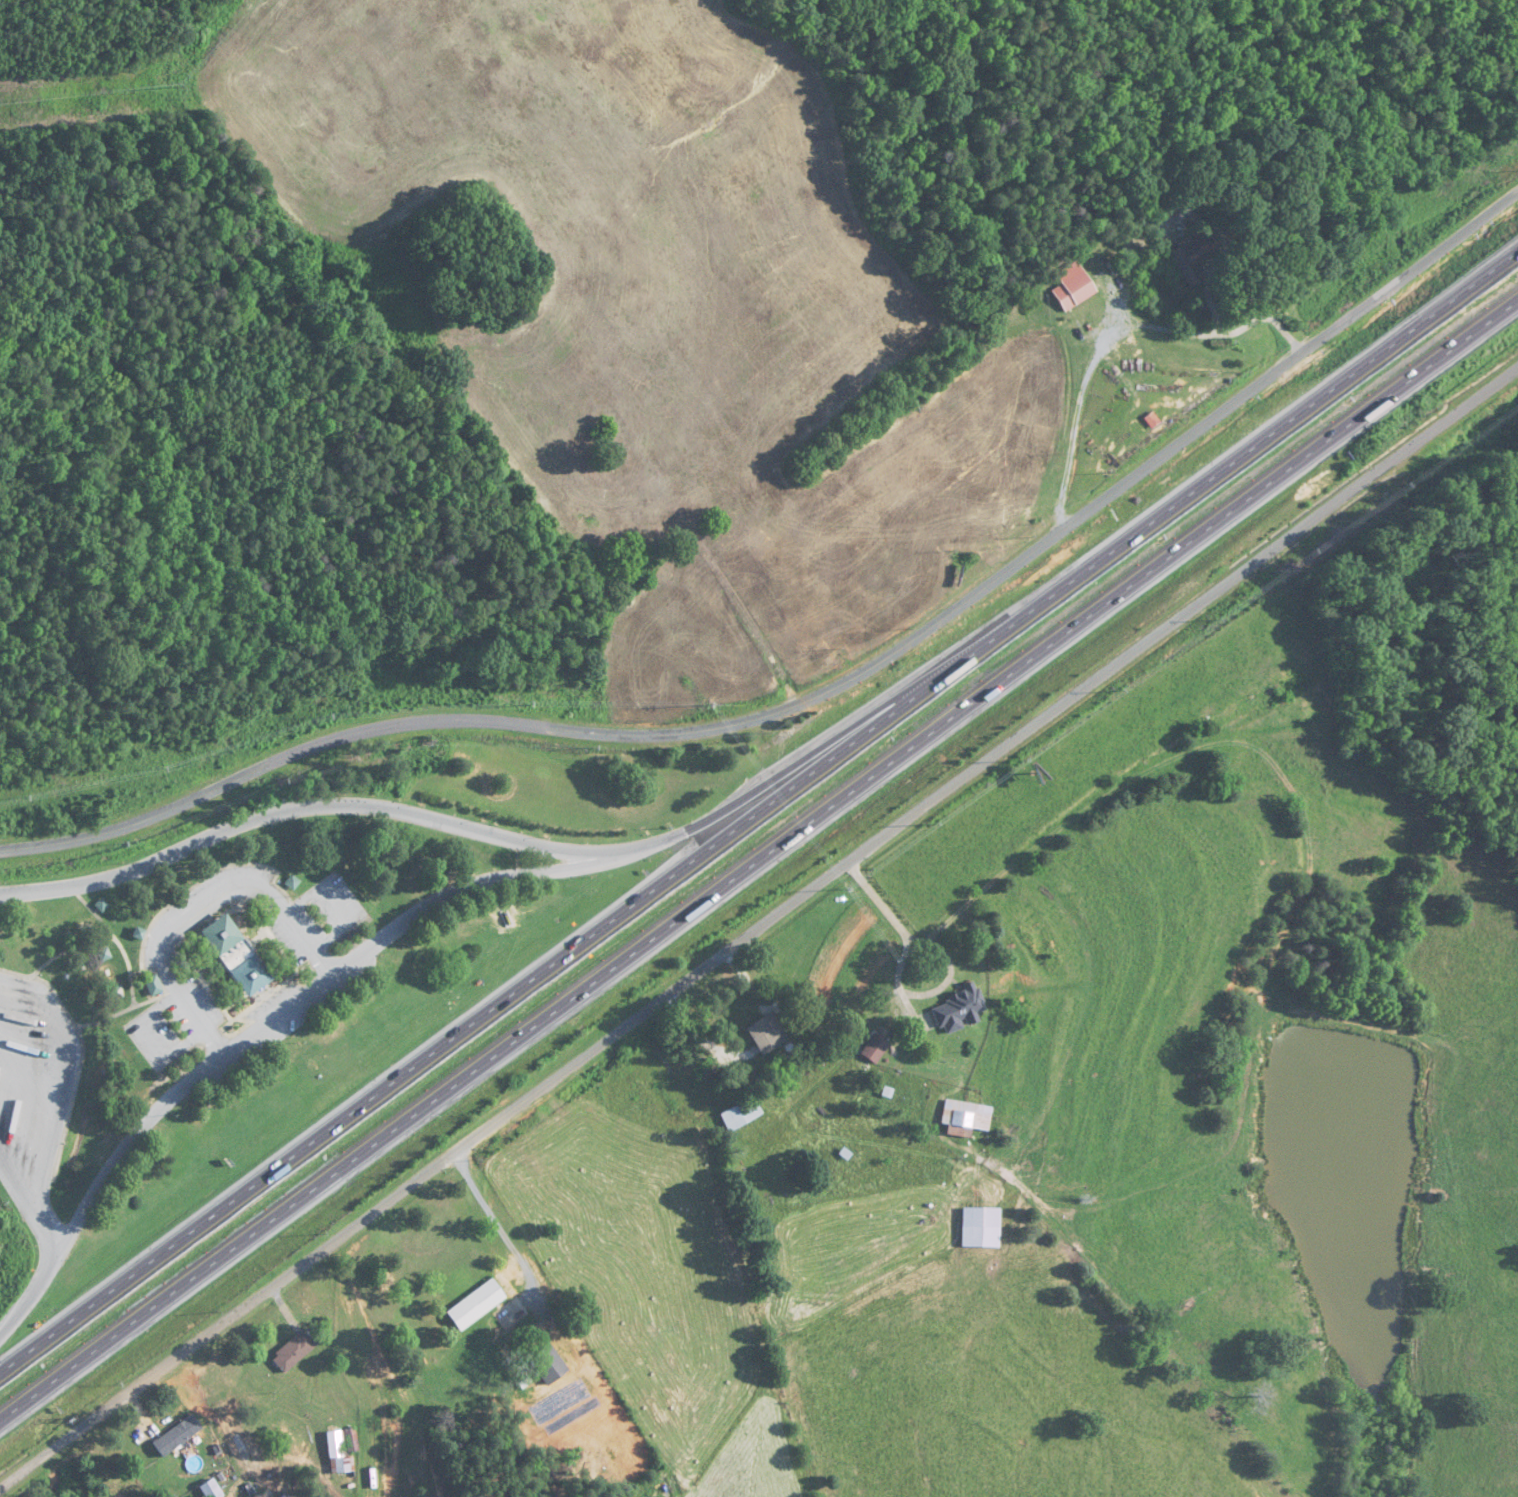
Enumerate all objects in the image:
building: (1191, 259)
road: (1218, 271)
building: (1070, 287)
road: (1086, 379)
road: (824, 695)
road: (814, 752)
road: (759, 808)
road: (298, 809)
road: (758, 853)
road: (200, 906)
building: (105, 907)
parking lot: (317, 920)
road: (758, 928)
building: (140, 933)
building: (238, 955)
road: (897, 979)
building: (155, 986)
road: (292, 1007)
building: (957, 1009)
parking lot: (178, 1026)
building: (765, 1034)
building: (872, 1050)
parking lot: (34, 1087)
building: (738, 1115)
building: (963, 1118)
road: (25, 1208)
road: (498, 1226)
building: (978, 1228)
road: (31, 1297)
building: (477, 1305)
building: (296, 1351)
building: (550, 1364)
building: (179, 1436)
building: (343, 1453)

